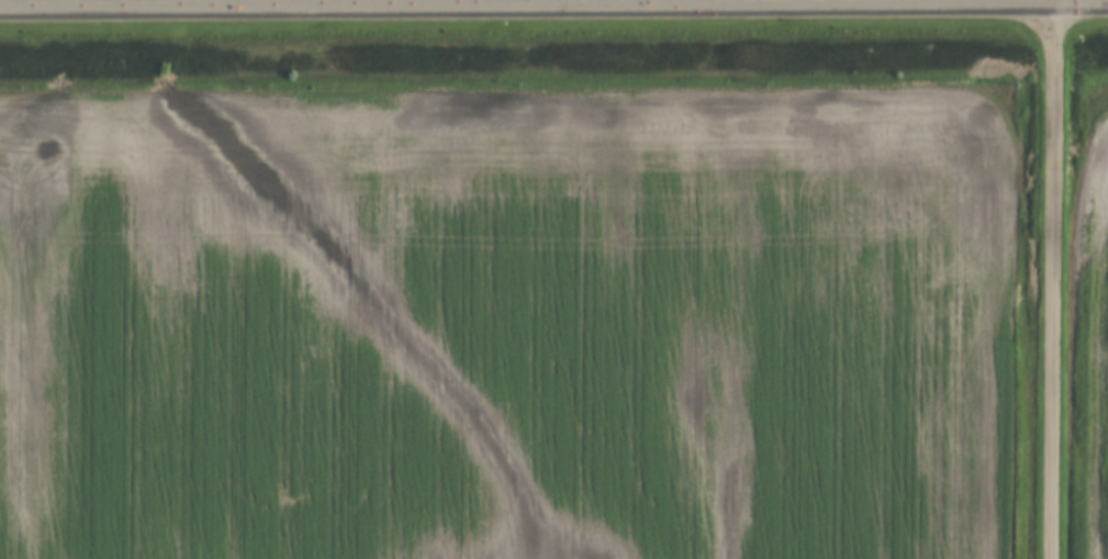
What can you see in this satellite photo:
road: (1057, 279)

